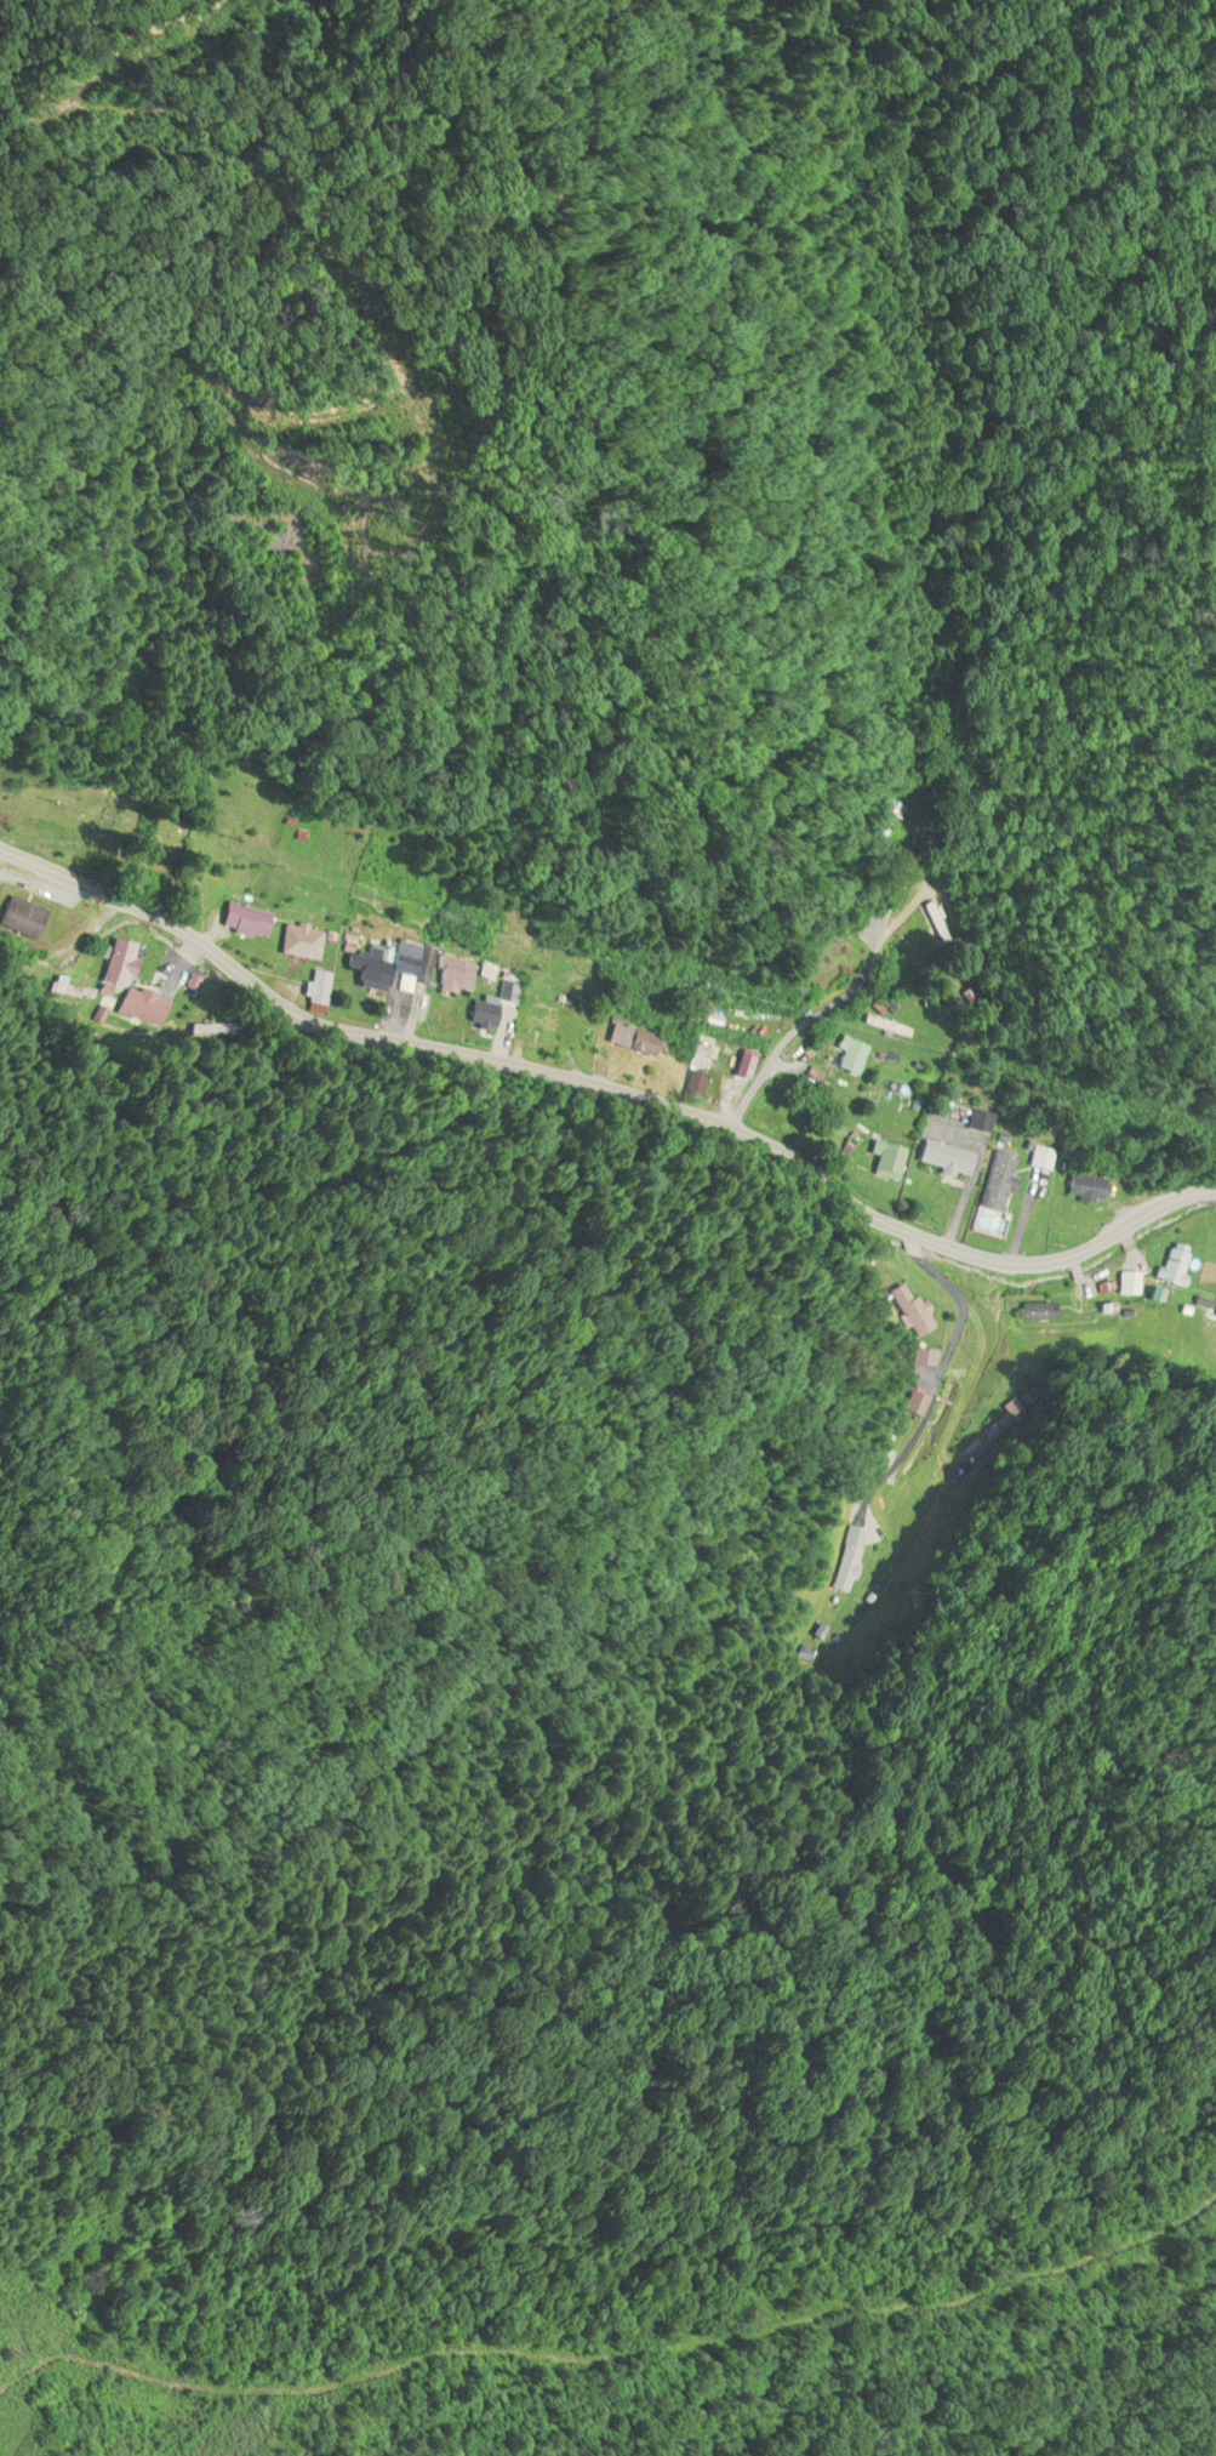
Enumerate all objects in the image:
road: (571, 542)
building: (877, 822)
building: (19, 919)
building: (244, 922)
building: (299, 944)
building: (823, 958)
building: (115, 964)
building: (389, 969)
building: (451, 976)
building: (315, 990)
building: (137, 1004)
building: (478, 1016)
building: (540, 1022)
building: (881, 1027)
building: (632, 1042)
building: (845, 1058)
building: (692, 1088)
road: (606, 1093)
building: (977, 1123)
building: (884, 1159)
building: (942, 1159)
building: (1041, 1159)
building: (995, 1181)
building: (1084, 1189)
building: (1175, 1266)
building: (1130, 1284)
building: (898, 1310)
road: (927, 1383)
building: (906, 1404)
quarry: (4, 2397)

